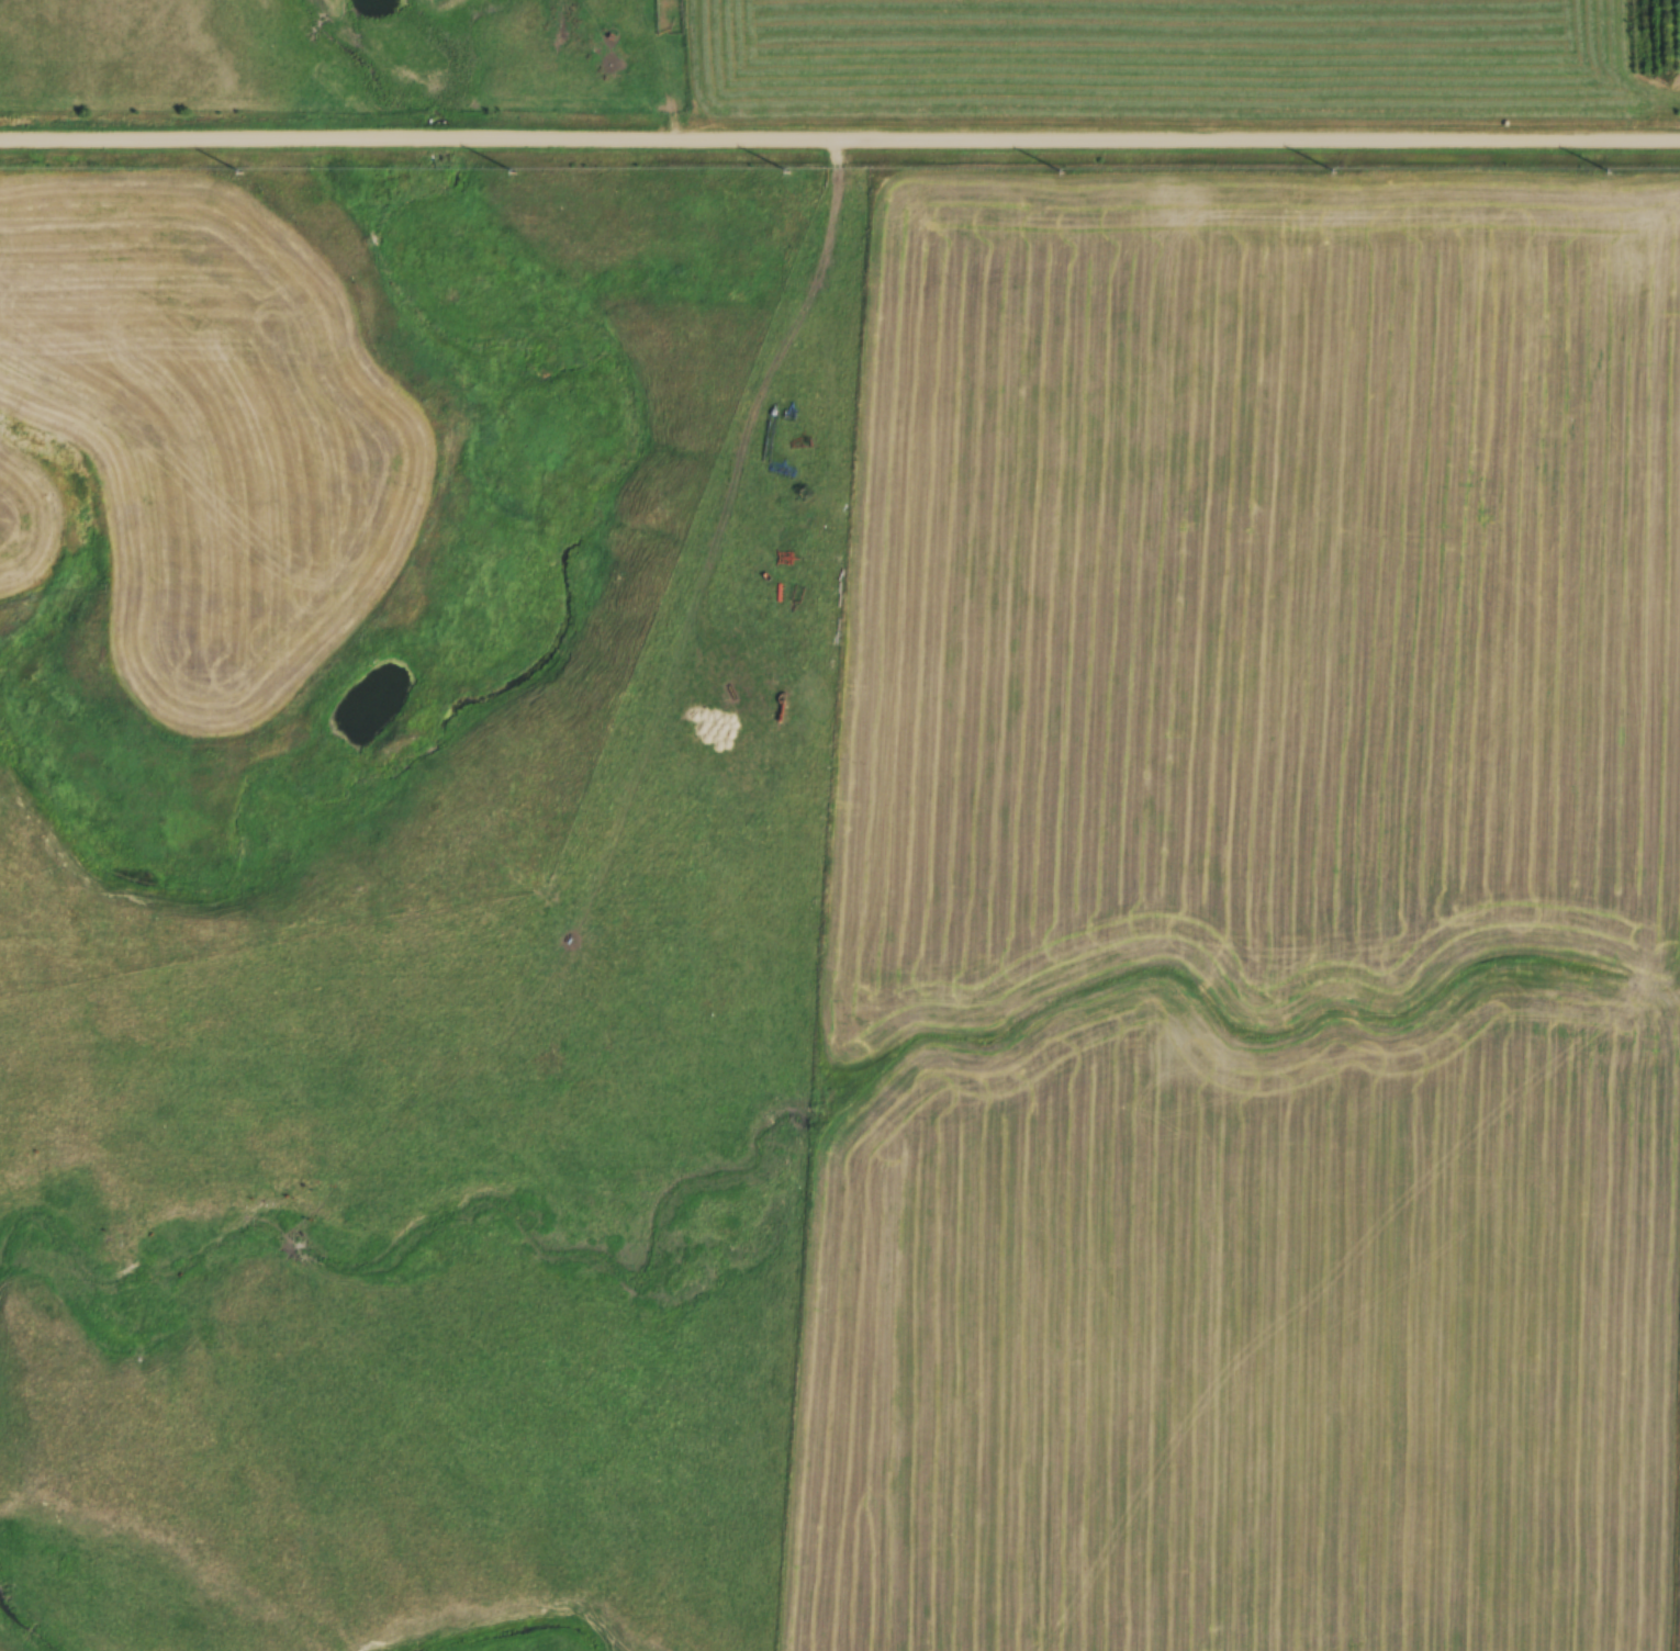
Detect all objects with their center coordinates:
road: (839, 139)

